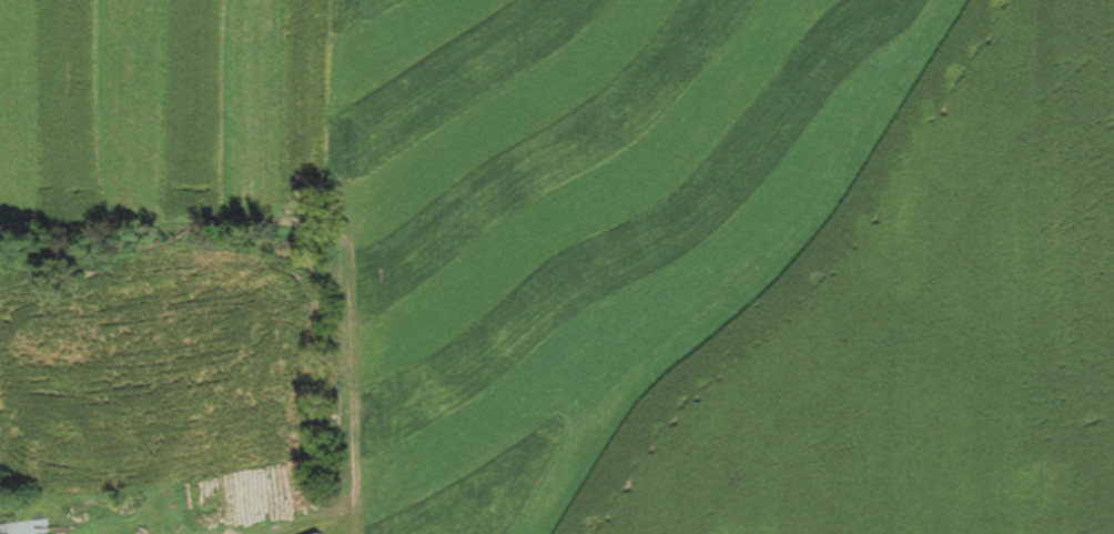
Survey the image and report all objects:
building: (23, 528)

